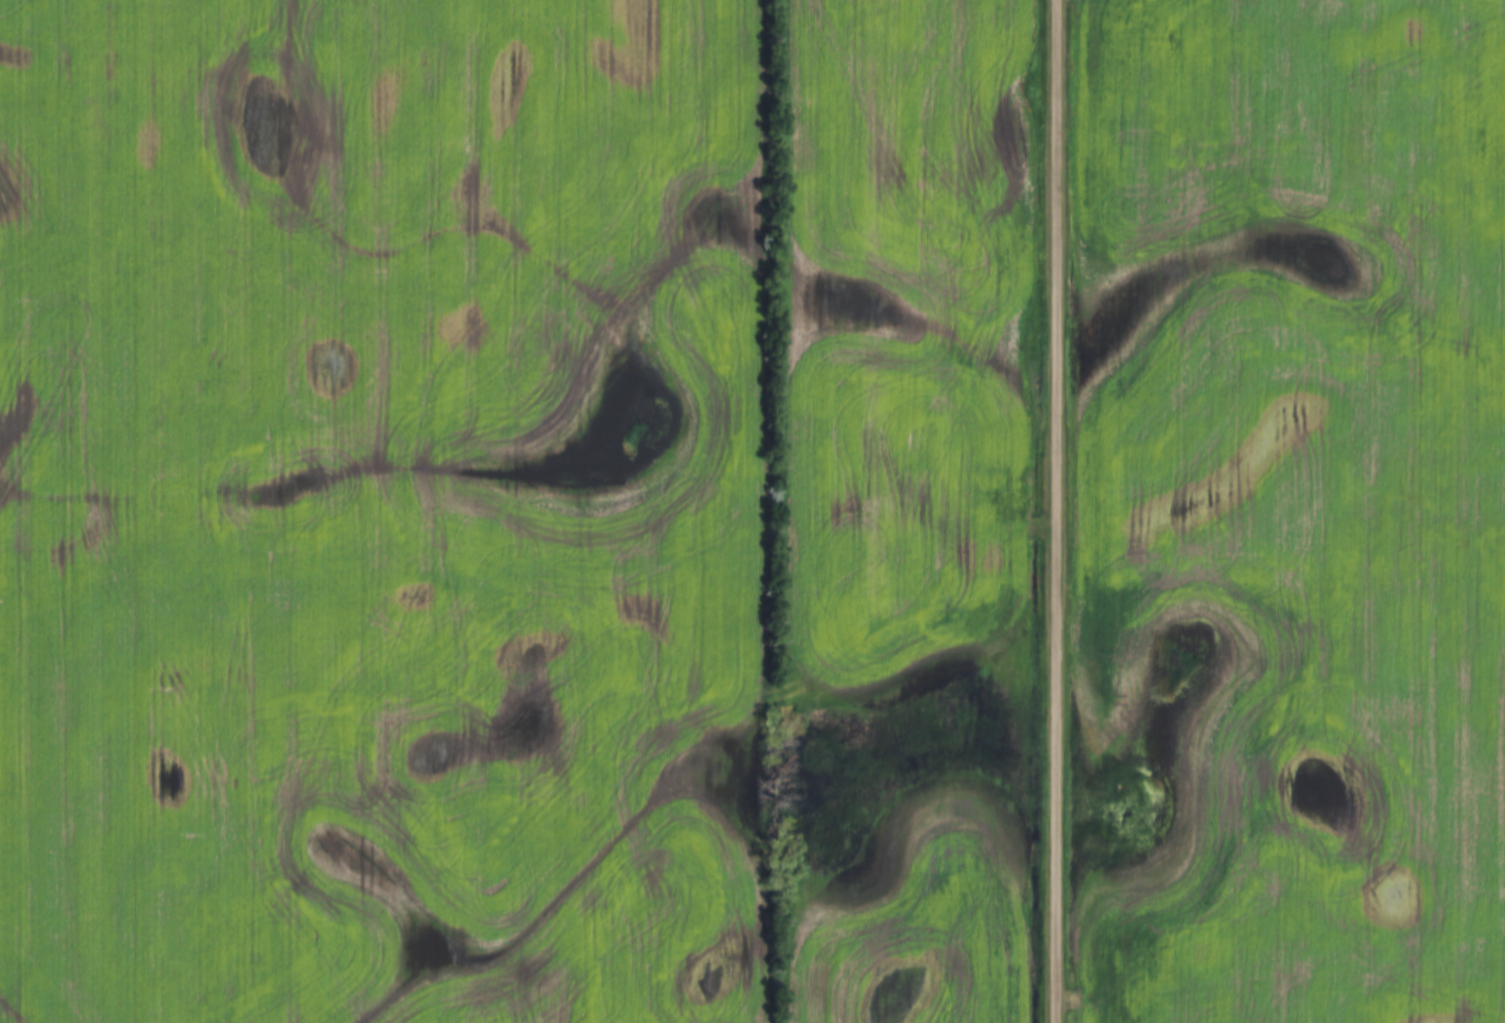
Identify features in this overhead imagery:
road: (1059, 511)

